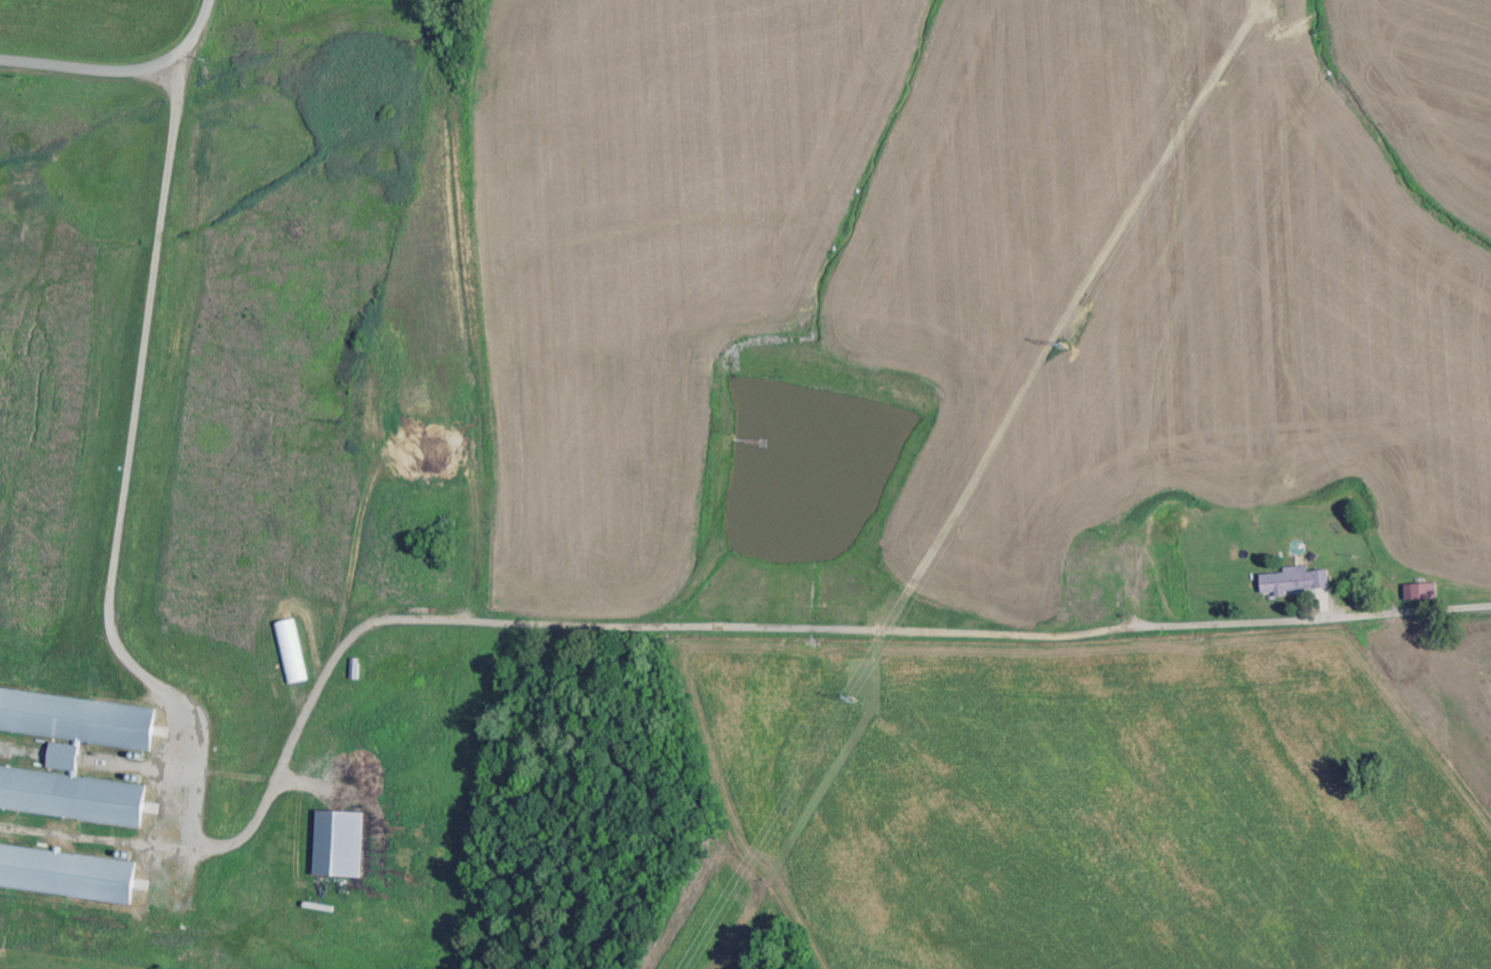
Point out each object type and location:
road: (122, 70)
building: (1299, 582)
building: (1424, 593)
building: (294, 651)
building: (75, 754)
building: (343, 844)

